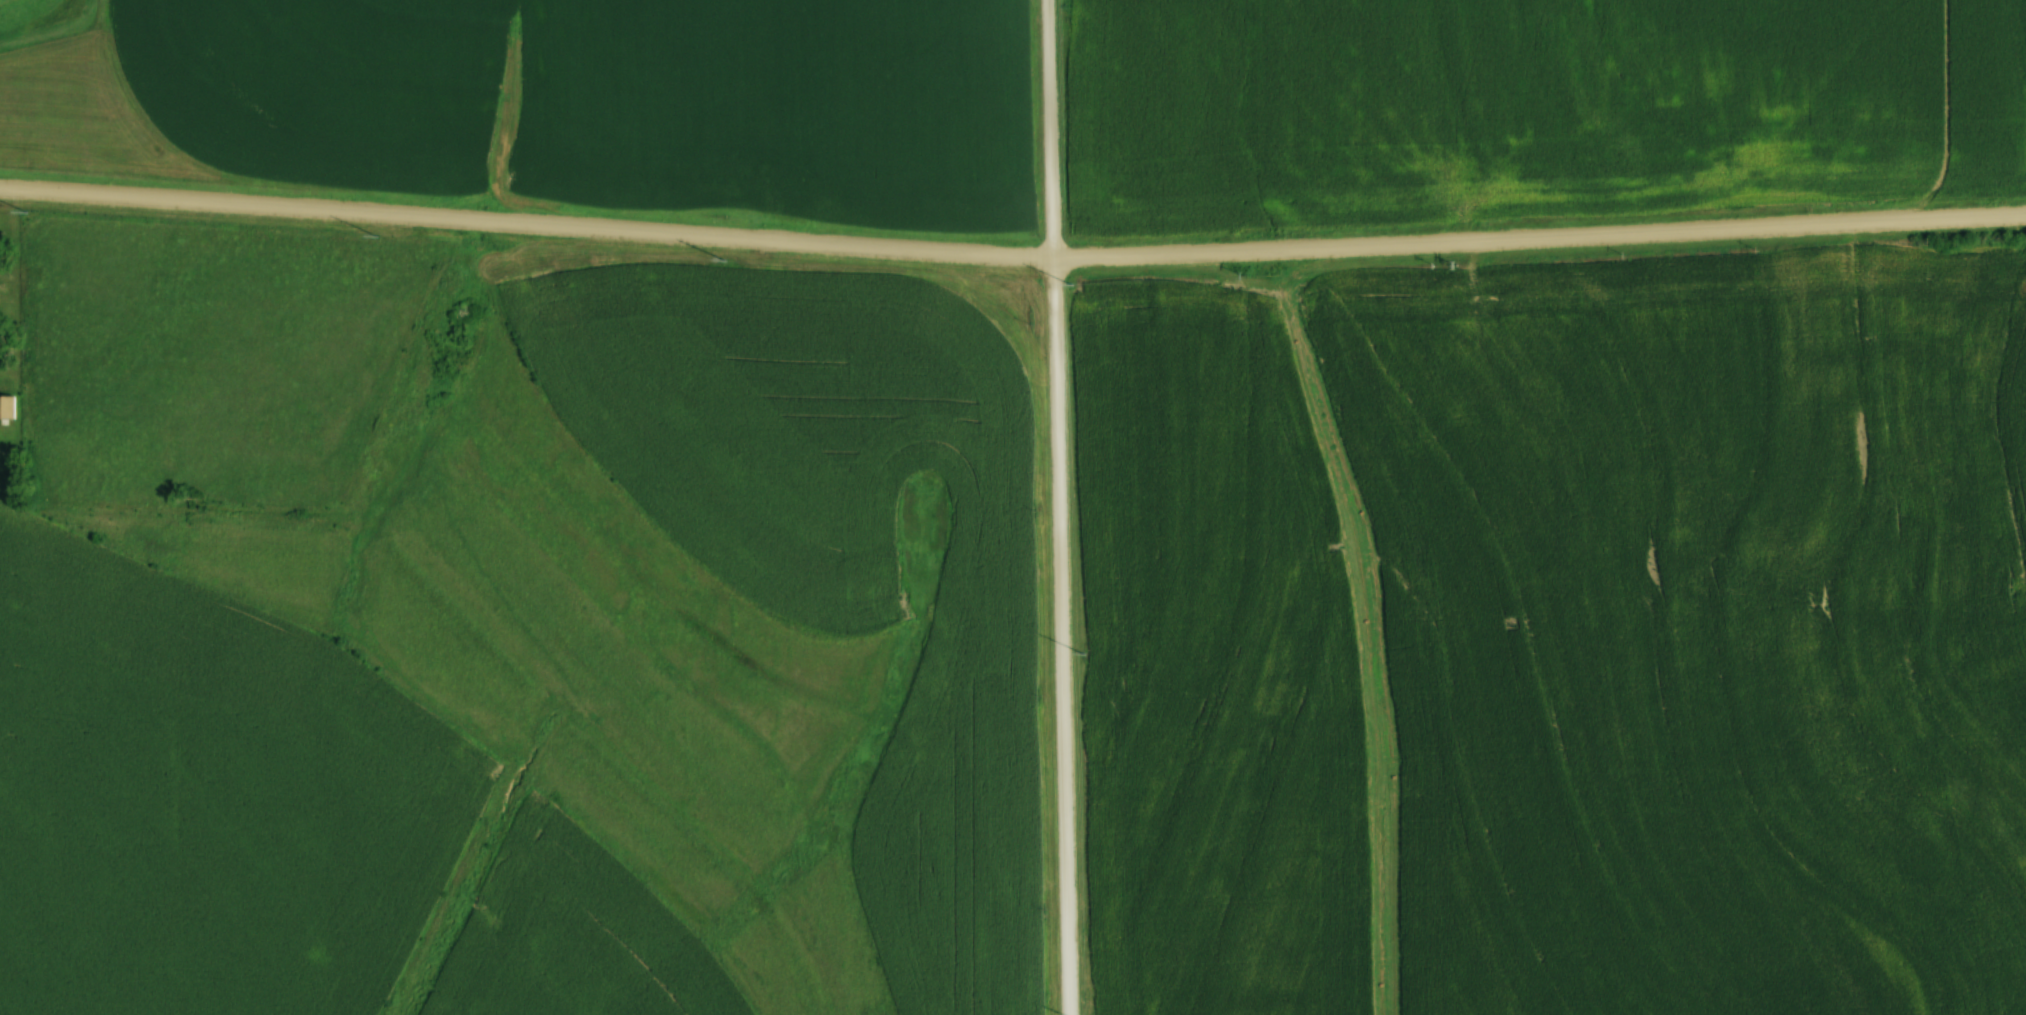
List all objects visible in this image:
road: (1012, 257)
building: (6, 407)
road: (1061, 507)

